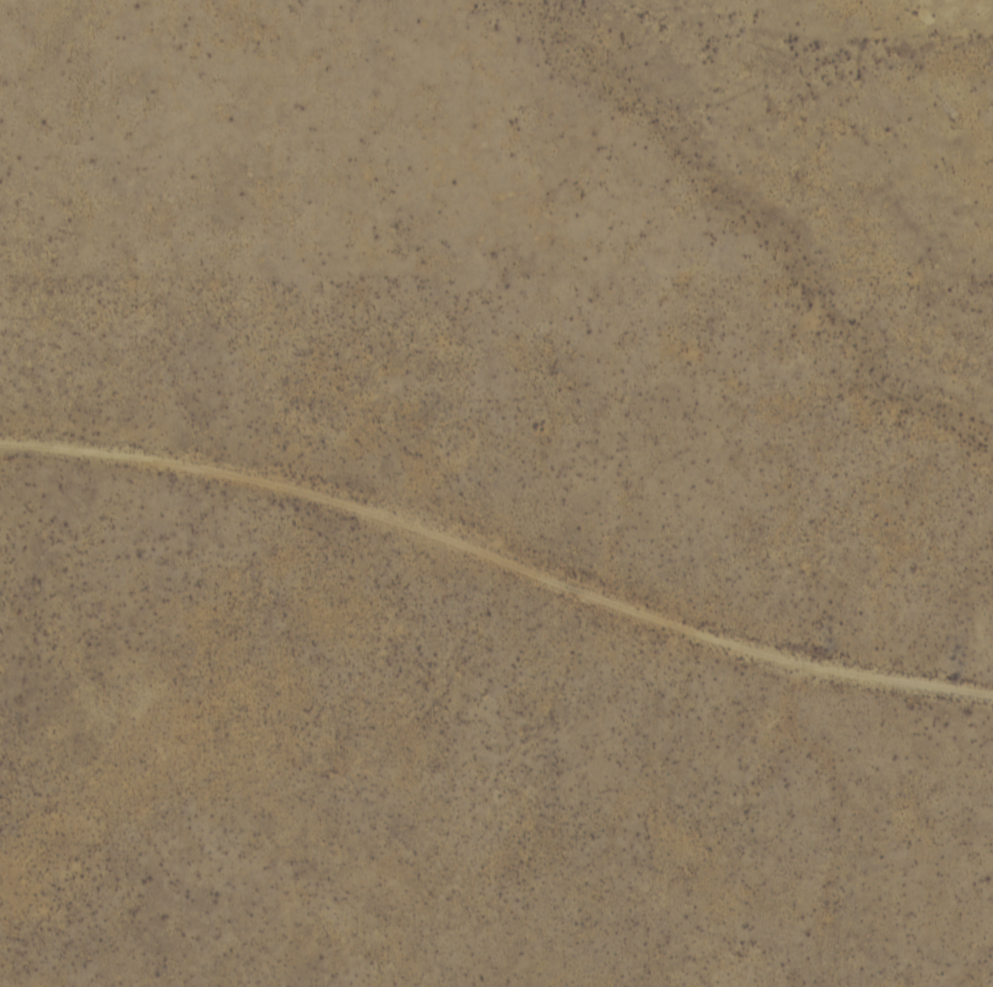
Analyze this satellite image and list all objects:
road: (499, 560)

